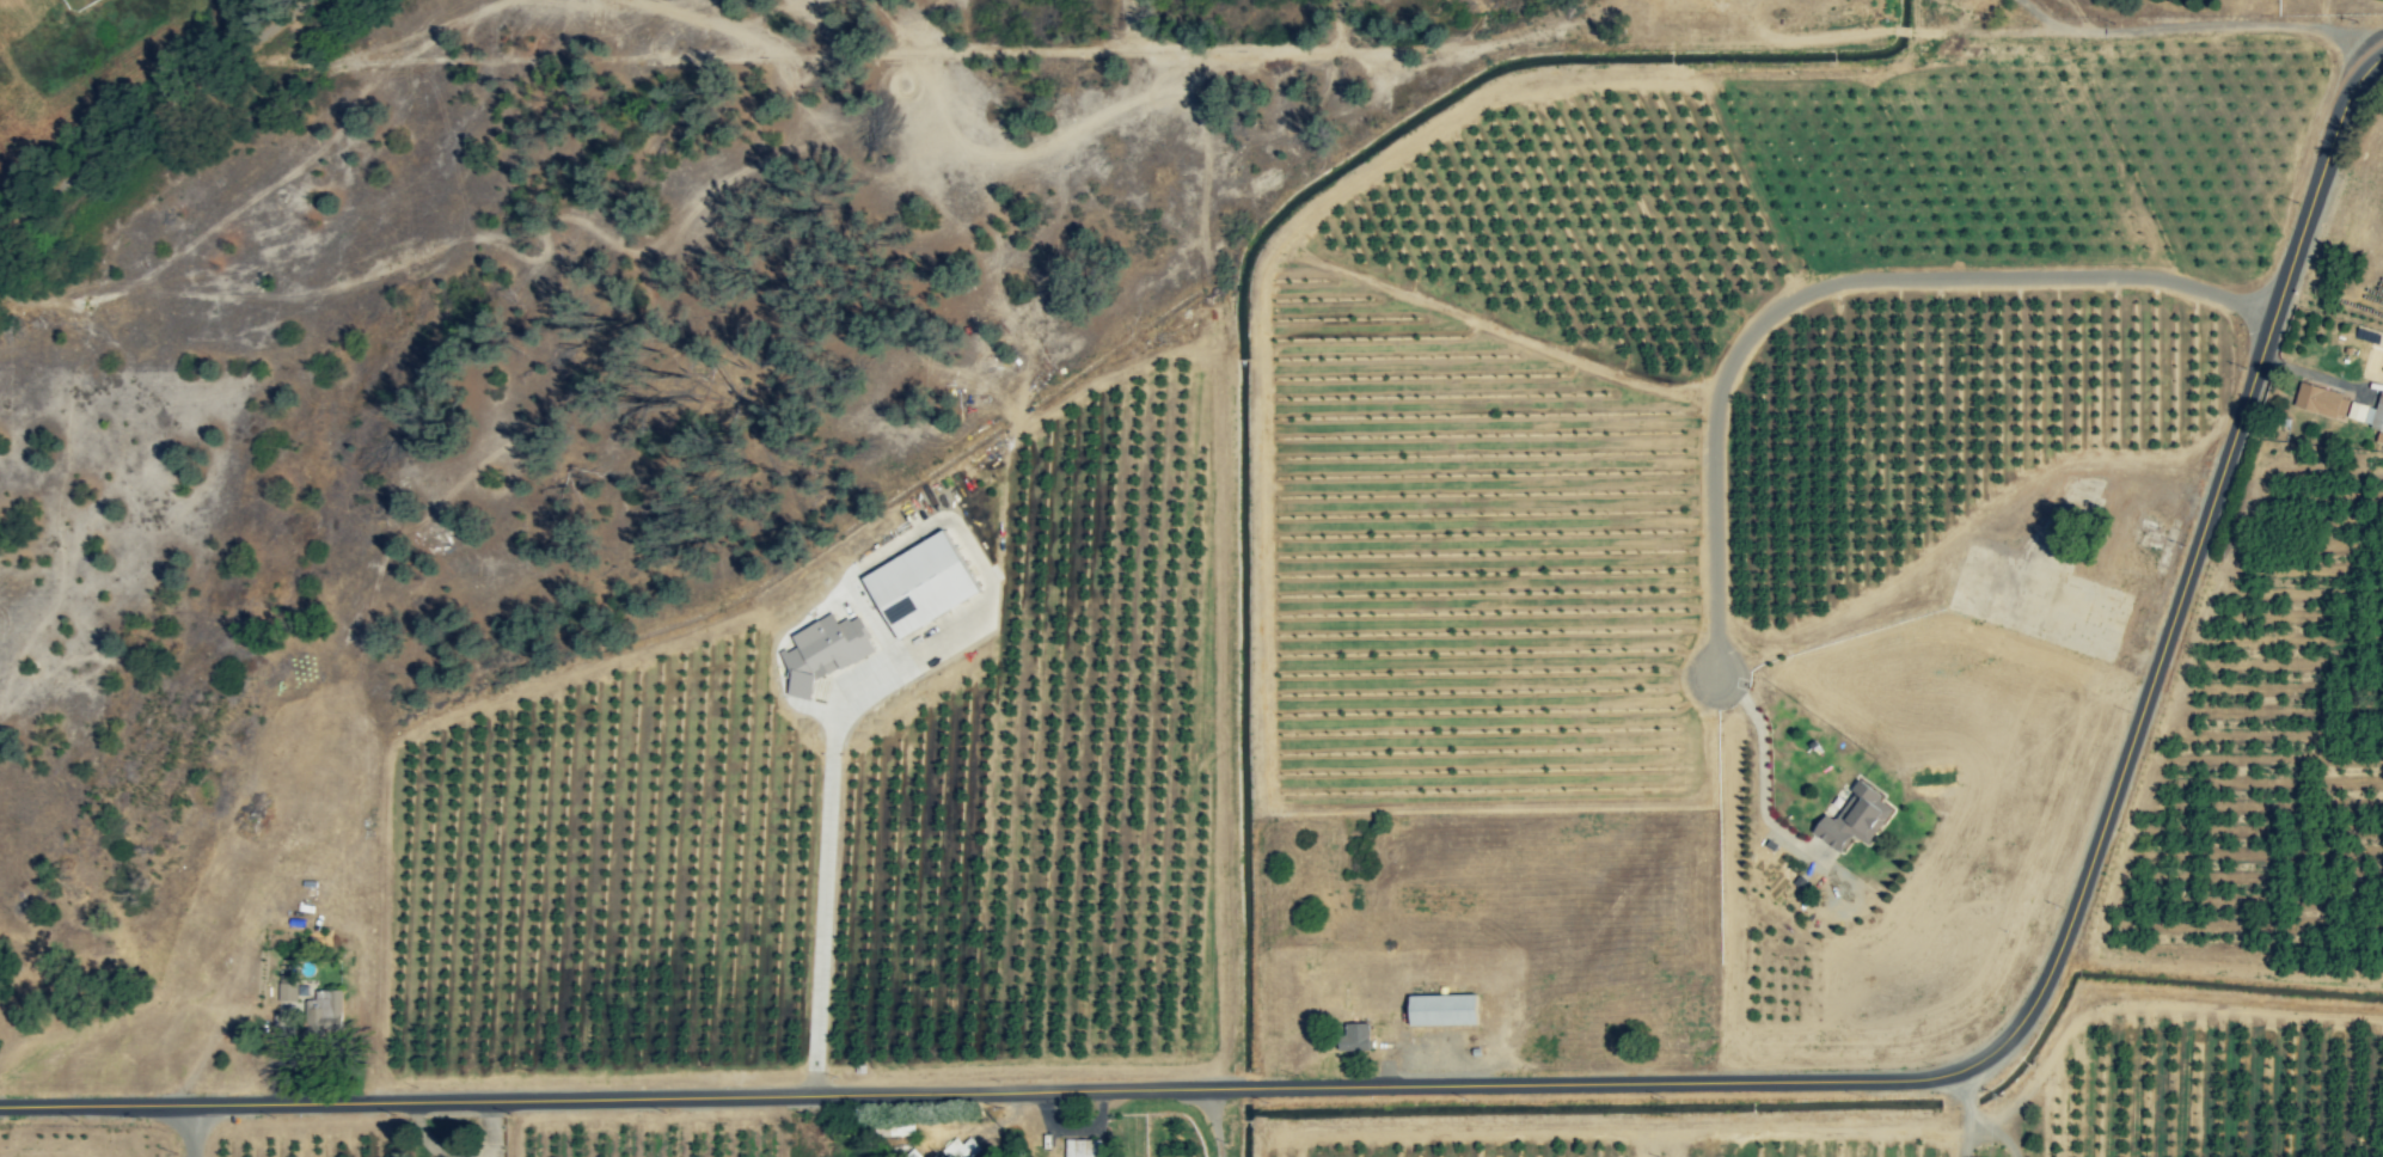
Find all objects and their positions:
road: (1832, 287)
building: (2320, 403)
building: (917, 587)
building: (821, 654)
road: (1764, 759)
building: (1852, 820)
road: (825, 901)
building: (1439, 1011)
building: (311, 1014)
building: (1353, 1039)
road: (1543, 1089)
road: (1961, 1115)
road: (1217, 1122)
road: (443, 1130)
road: (191, 1132)
building: (956, 1147)
building: (1080, 1149)

